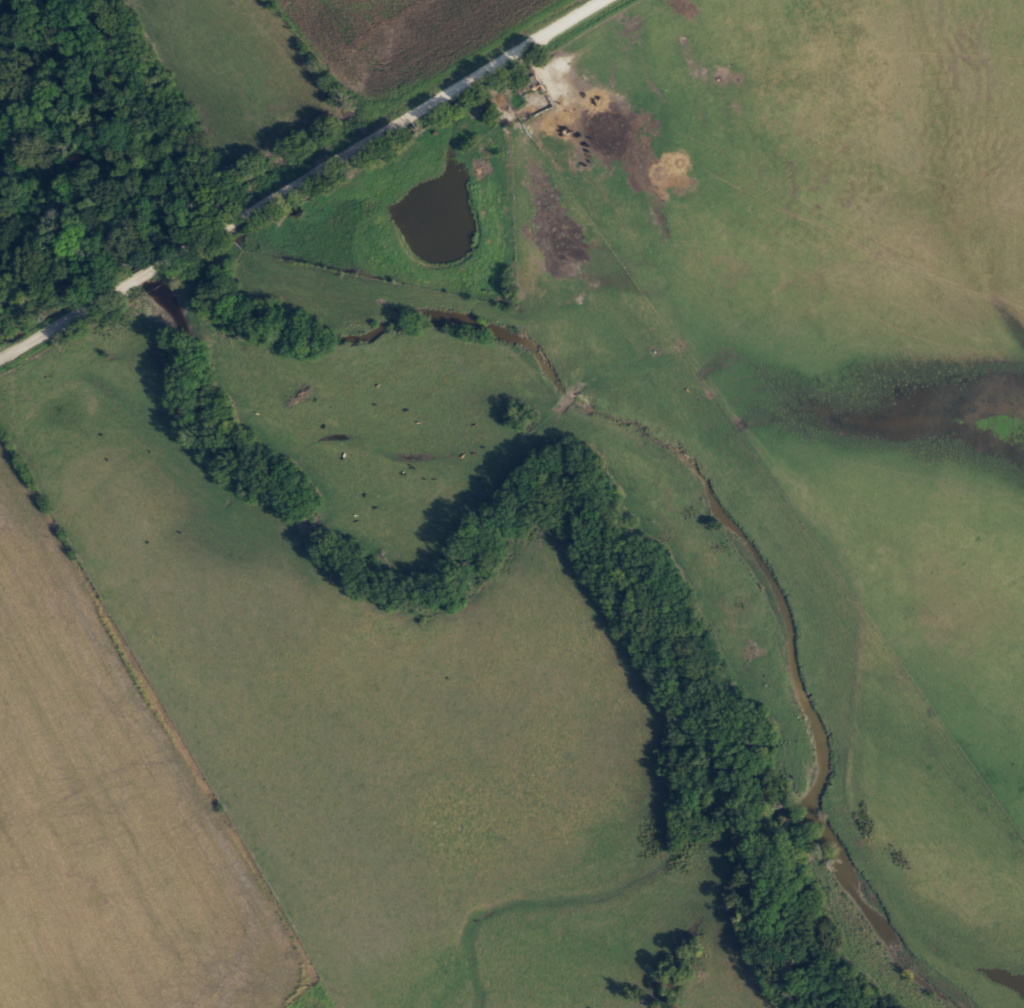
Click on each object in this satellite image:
road: (300, 178)
dam: (455, 263)

